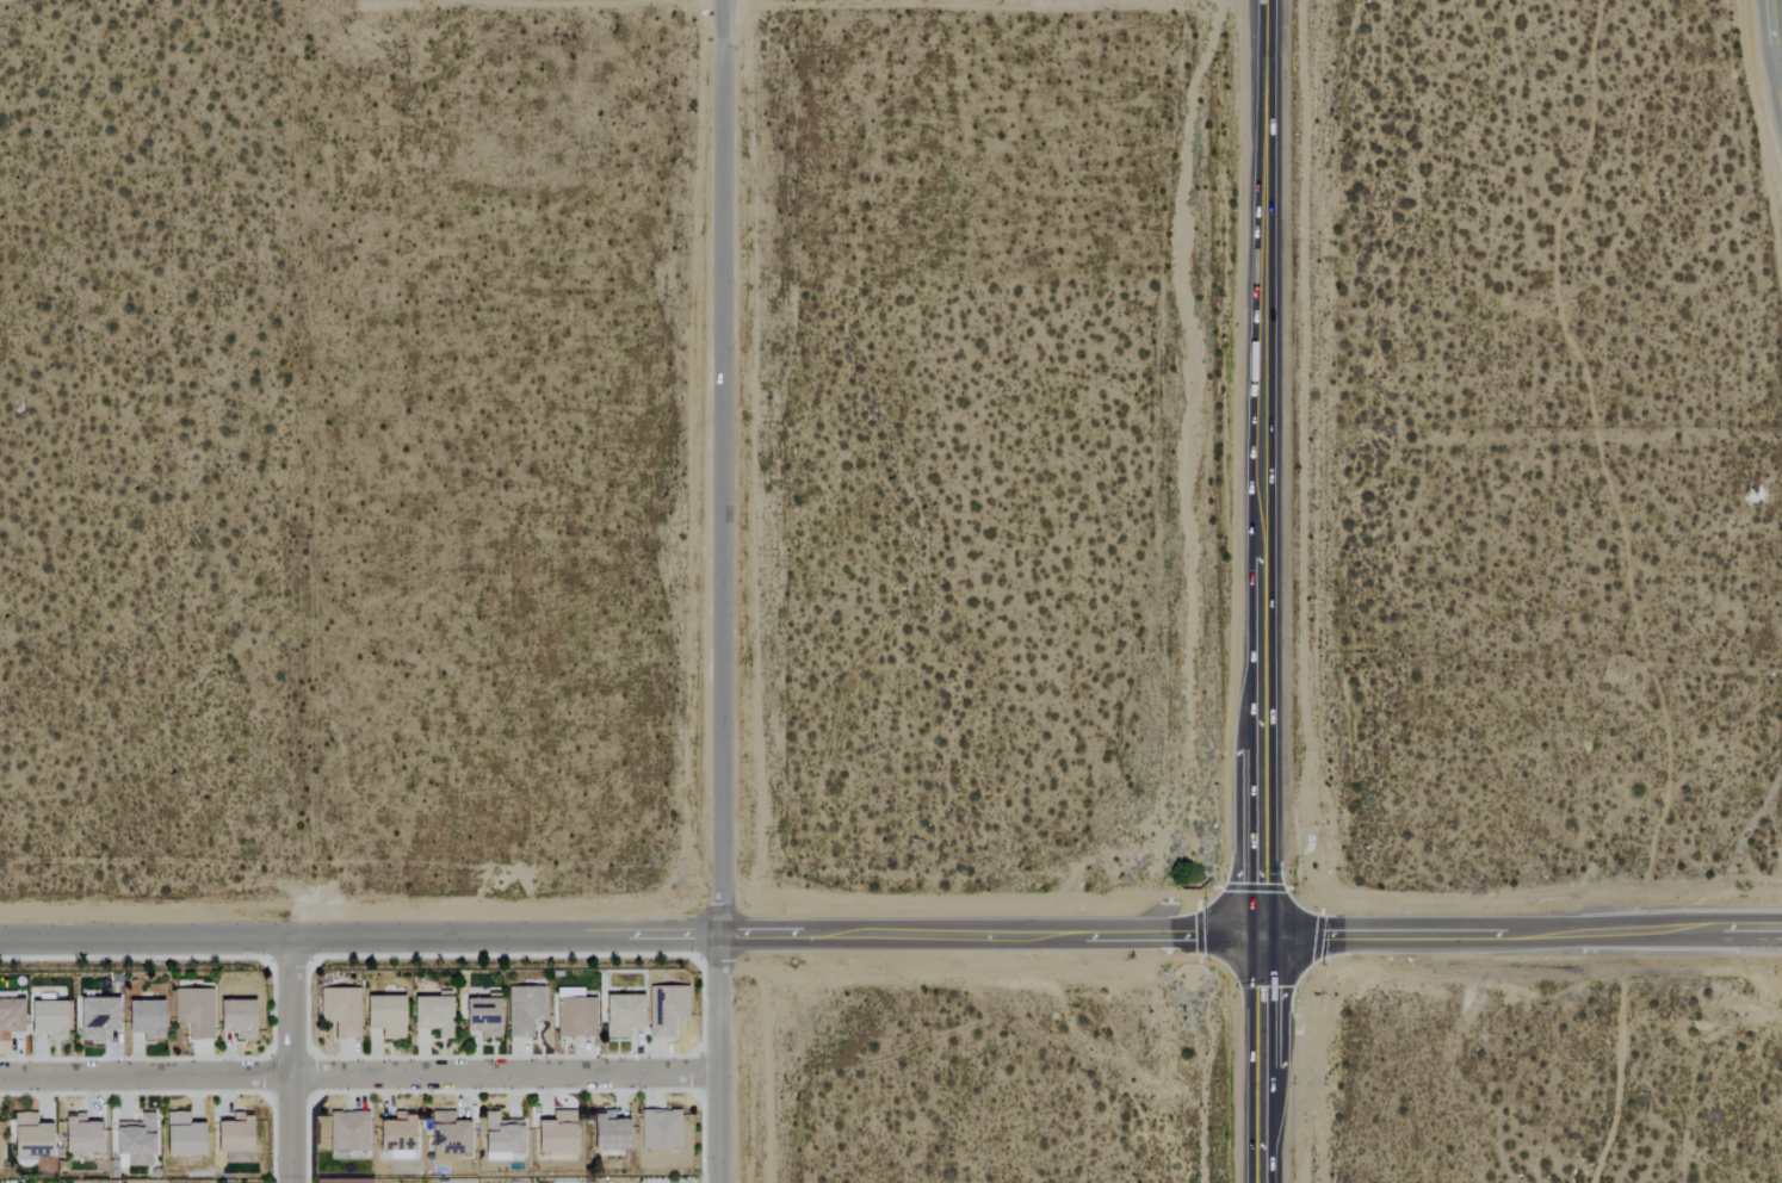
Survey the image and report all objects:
road: (1774, 47)
road: (1778, 63)
road: (589, 287)
road: (1266, 463)
road: (388, 541)
road: (722, 591)
road: (1524, 927)
road: (992, 929)
road: (358, 933)
building: (666, 1009)
building: (340, 1010)
building: (524, 1010)
building: (193, 1011)
building: (574, 1014)
building: (10, 1015)
building: (432, 1015)
building: (383, 1016)
building: (481, 1016)
building: (621, 1016)
building: (95, 1017)
building: (235, 1017)
building: (142, 1018)
building: (45, 1020)
road: (1267, 1054)
road: (292, 1058)
road: (359, 1074)
building: (658, 1129)
building: (607, 1131)
building: (347, 1132)
building: (79, 1134)
building: (233, 1134)
building: (555, 1134)
building: (180, 1135)
building: (29, 1136)
building: (500, 1138)

